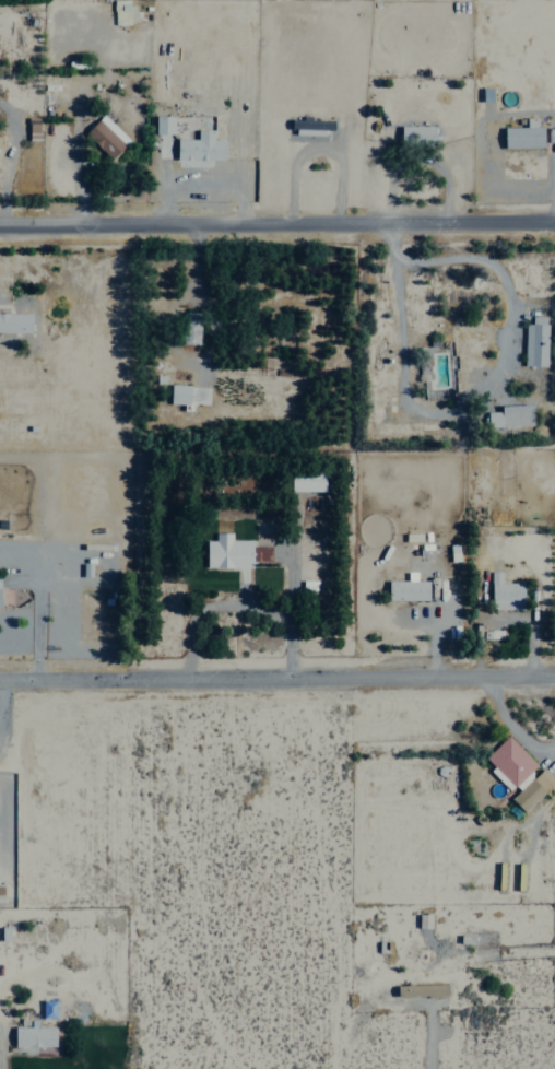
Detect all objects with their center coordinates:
building: (164, 125)
building: (312, 127)
building: (33, 128)
building: (416, 136)
building: (523, 136)
building: (105, 137)
building: (199, 150)
road: (277, 223)
building: (15, 322)
building: (189, 328)
building: (534, 342)
building: (179, 393)
building: (510, 416)
building: (308, 482)
building: (227, 552)
building: (261, 553)
building: (408, 590)
building: (505, 594)
building: (0, 606)
road: (277, 674)
building: (509, 760)
building: (532, 789)
building: (423, 919)
building: (421, 989)
building: (33, 1035)

